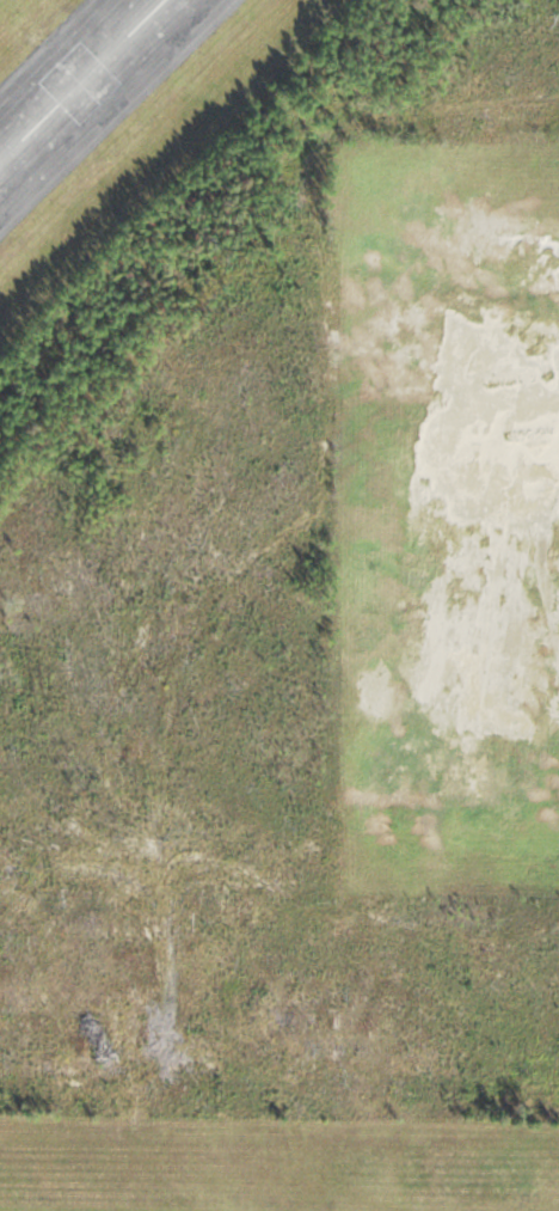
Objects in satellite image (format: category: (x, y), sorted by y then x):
building: (84, 81)
airport runway: (84, 82)
building: (5, 221)
airport: (279, 605)

